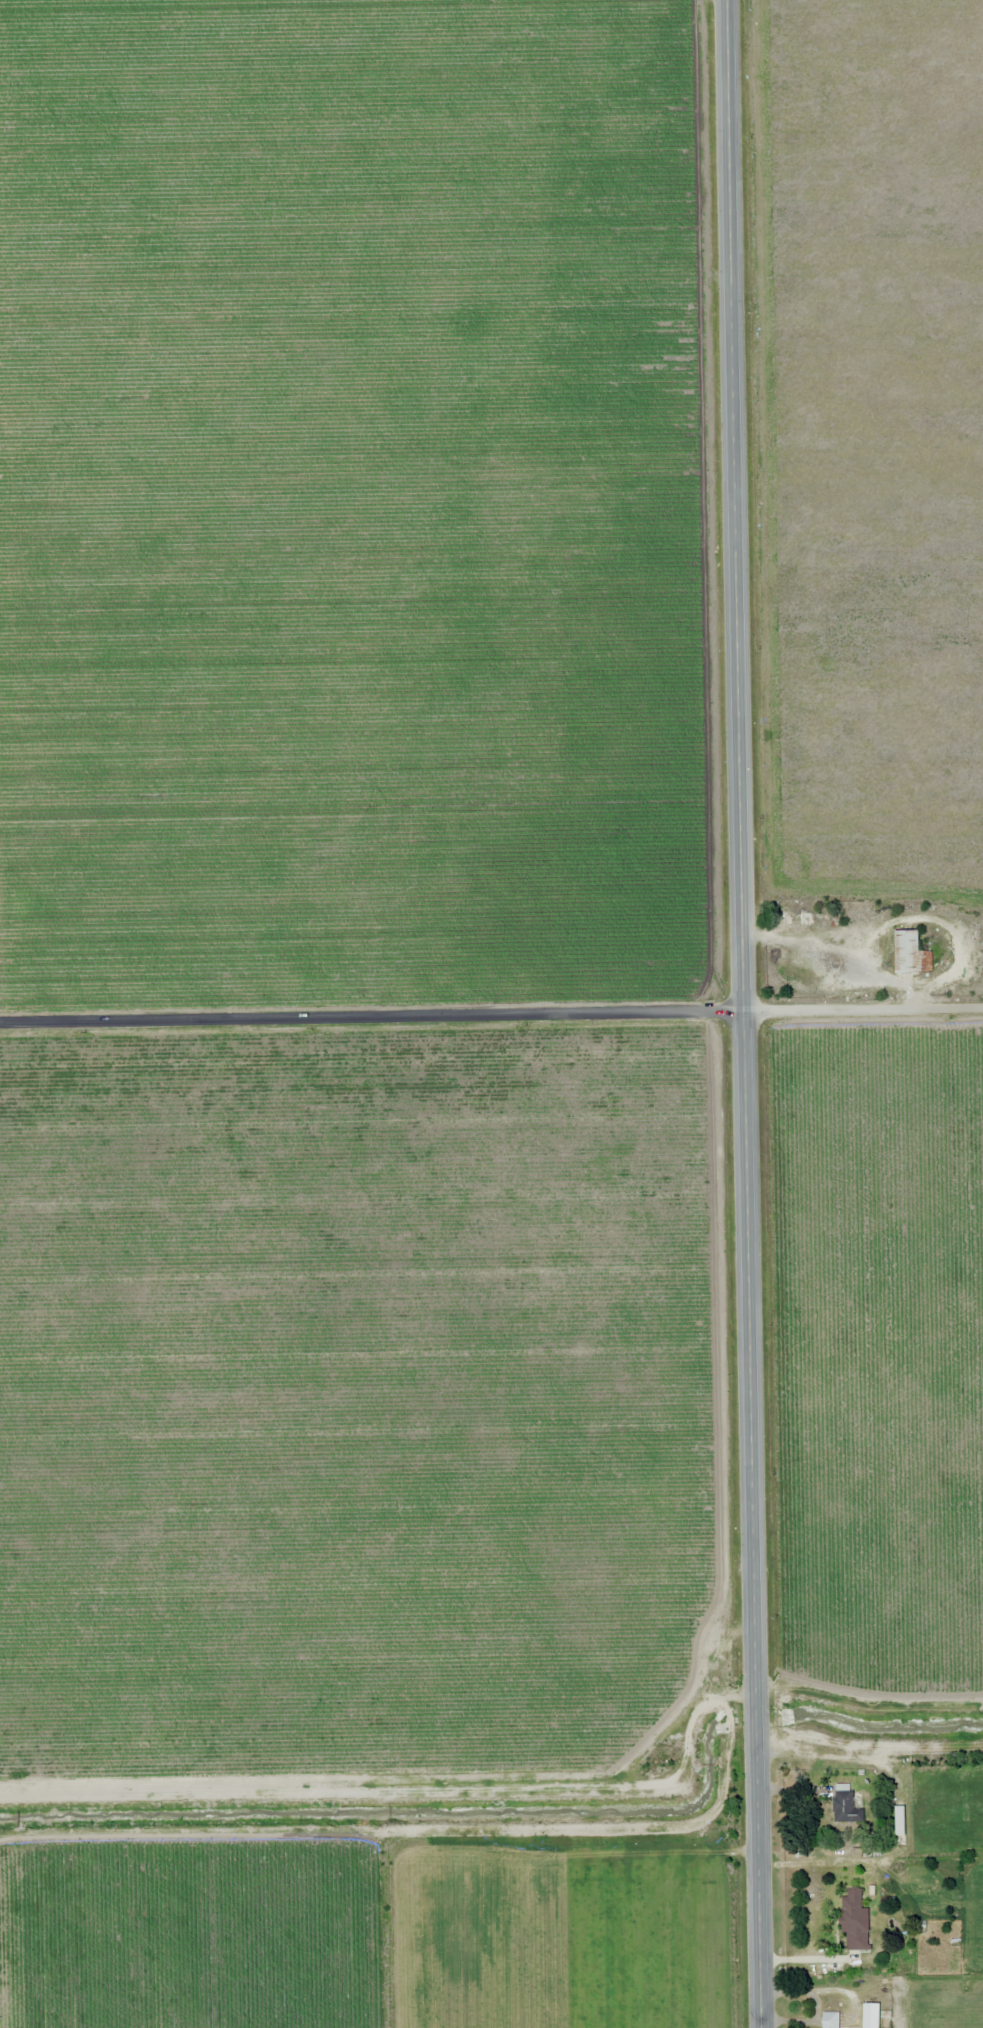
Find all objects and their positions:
building: (802, 914)
building: (911, 953)
road: (864, 1011)
road: (744, 1013)
road: (372, 1019)
building: (843, 1803)
building: (899, 1821)
building: (854, 1920)
building: (870, 2015)
building: (830, 2019)

